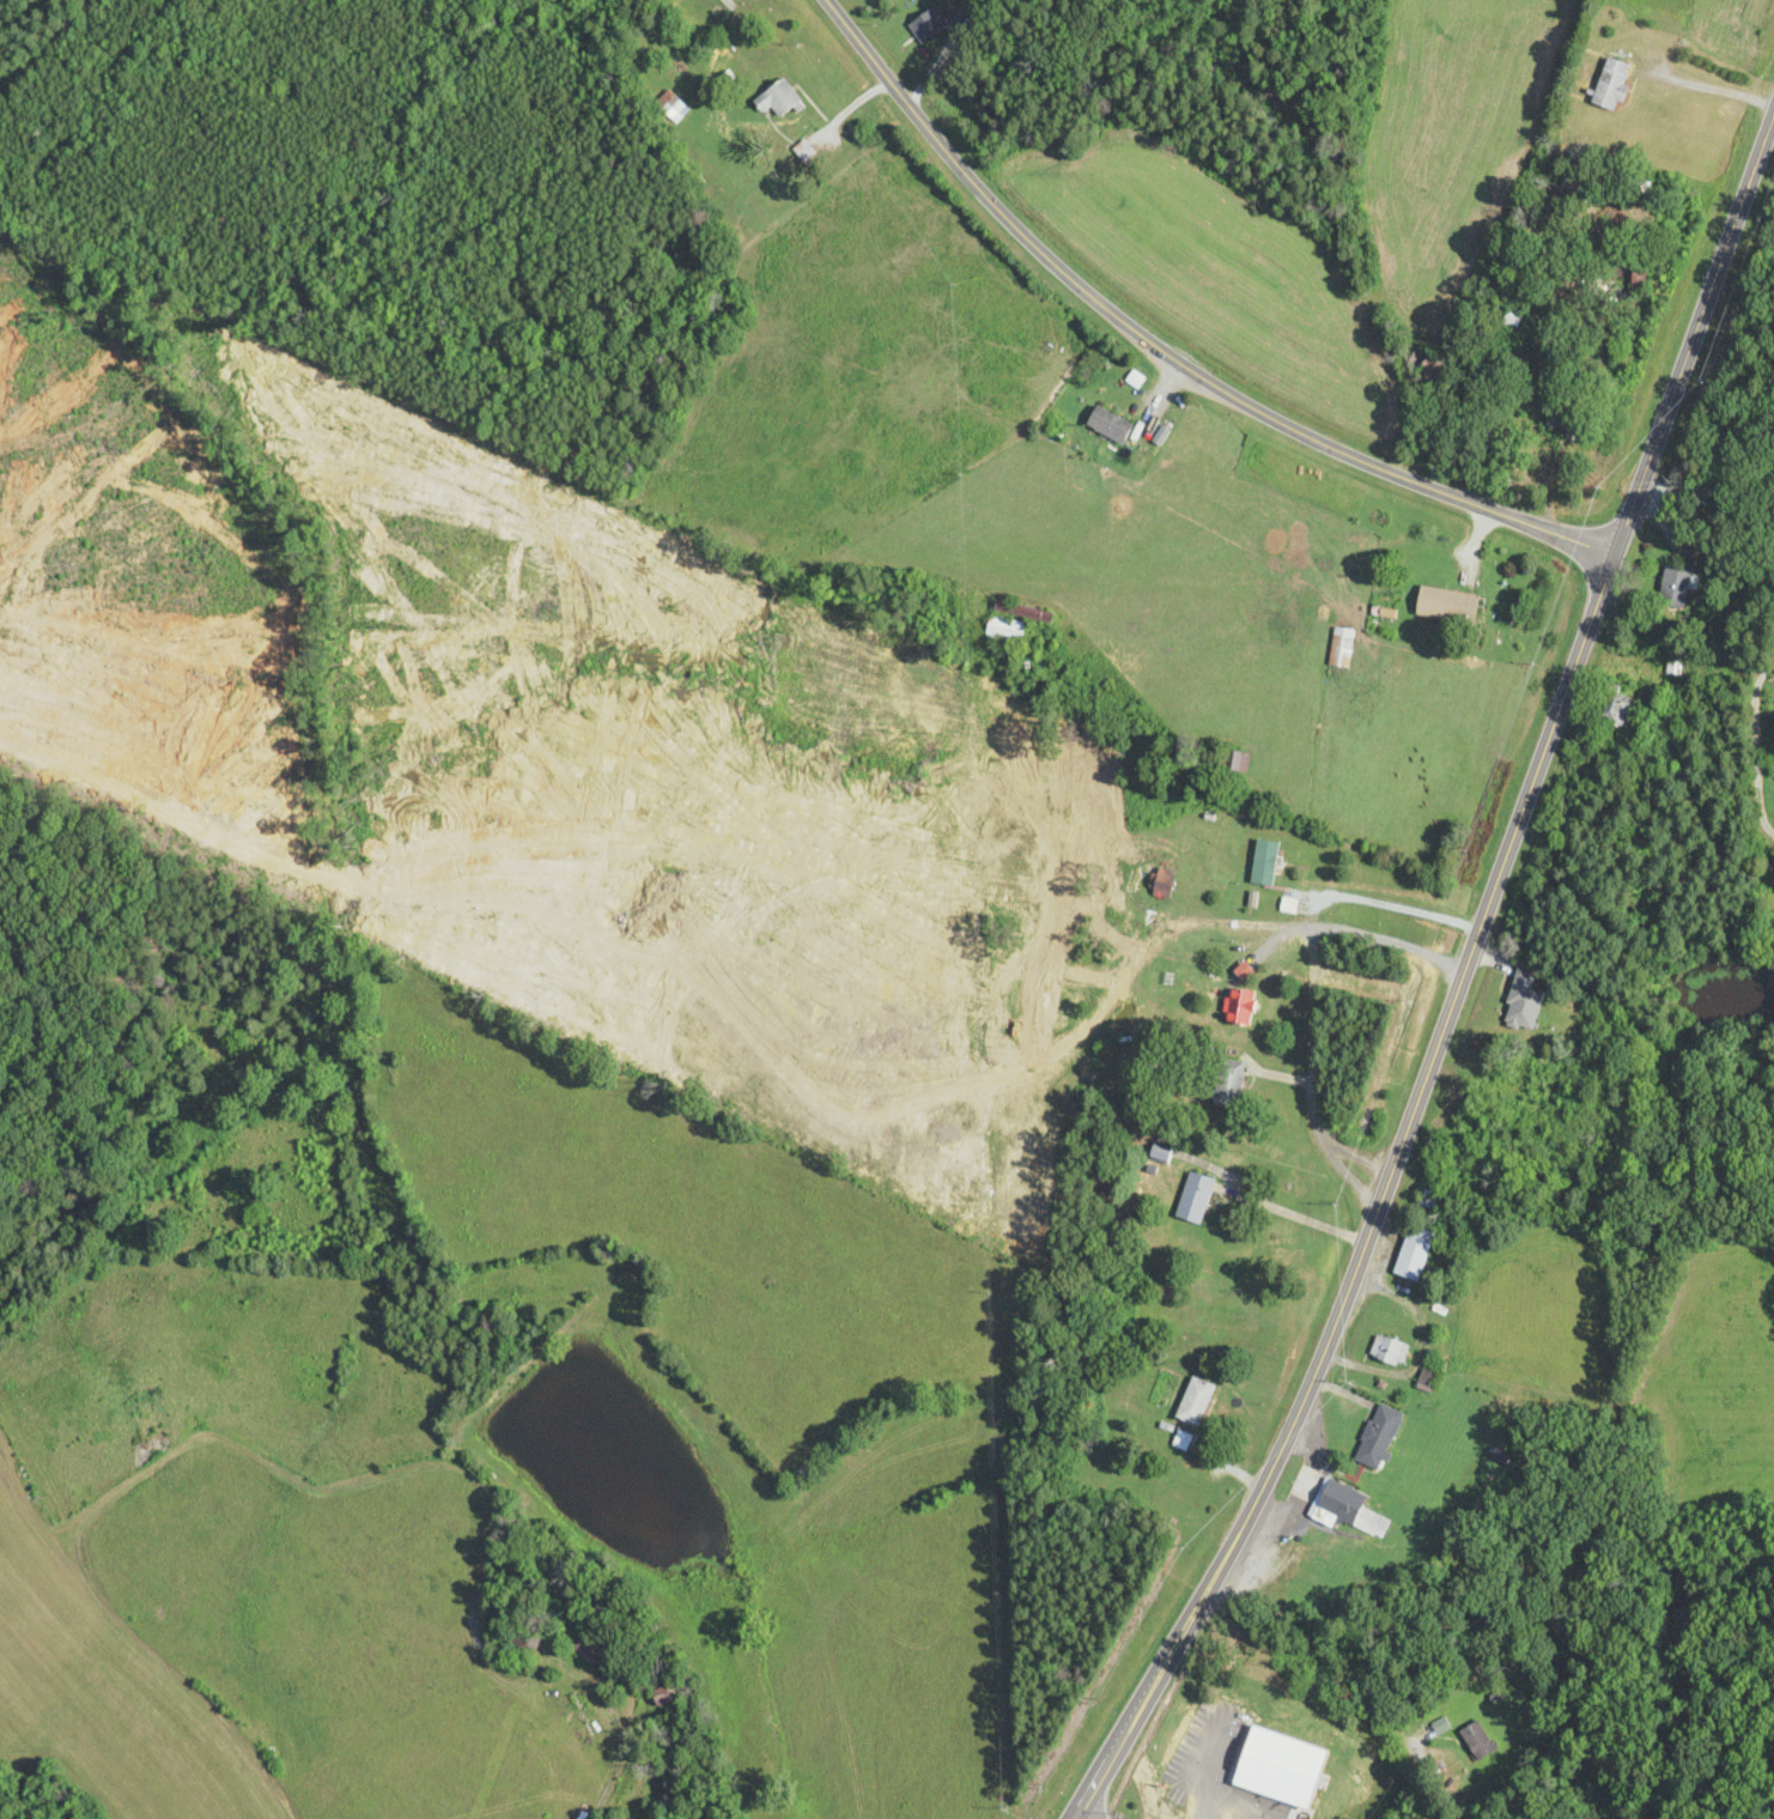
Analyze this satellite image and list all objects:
building: (725, 13)
building: (928, 25)
building: (1628, 42)
building: (1612, 85)
building: (778, 99)
building: (672, 107)
building: (1514, 315)
road: (1161, 351)
building: (1422, 362)
building: (1111, 425)
building: (1567, 425)
building: (1676, 587)
building: (1448, 606)
building: (1023, 612)
building: (1006, 630)
building: (1342, 648)
building: (1618, 708)
building: (1235, 762)
building: (1265, 862)
building: (1161, 886)
road: (1459, 980)
building: (1524, 1002)
building: (1240, 1006)
building: (1229, 1083)
building: (1196, 1199)
building: (1429, 1200)
building: (1415, 1253)
building: (1390, 1351)
building: (1427, 1382)
building: (1196, 1402)
building: (140, 1419)
building: (1379, 1437)
building: (1500, 1456)
building: (1349, 1510)
building: (523, 1641)
building: (590, 1651)
building: (662, 1696)
building: (1219, 1740)
building: (1478, 1741)

